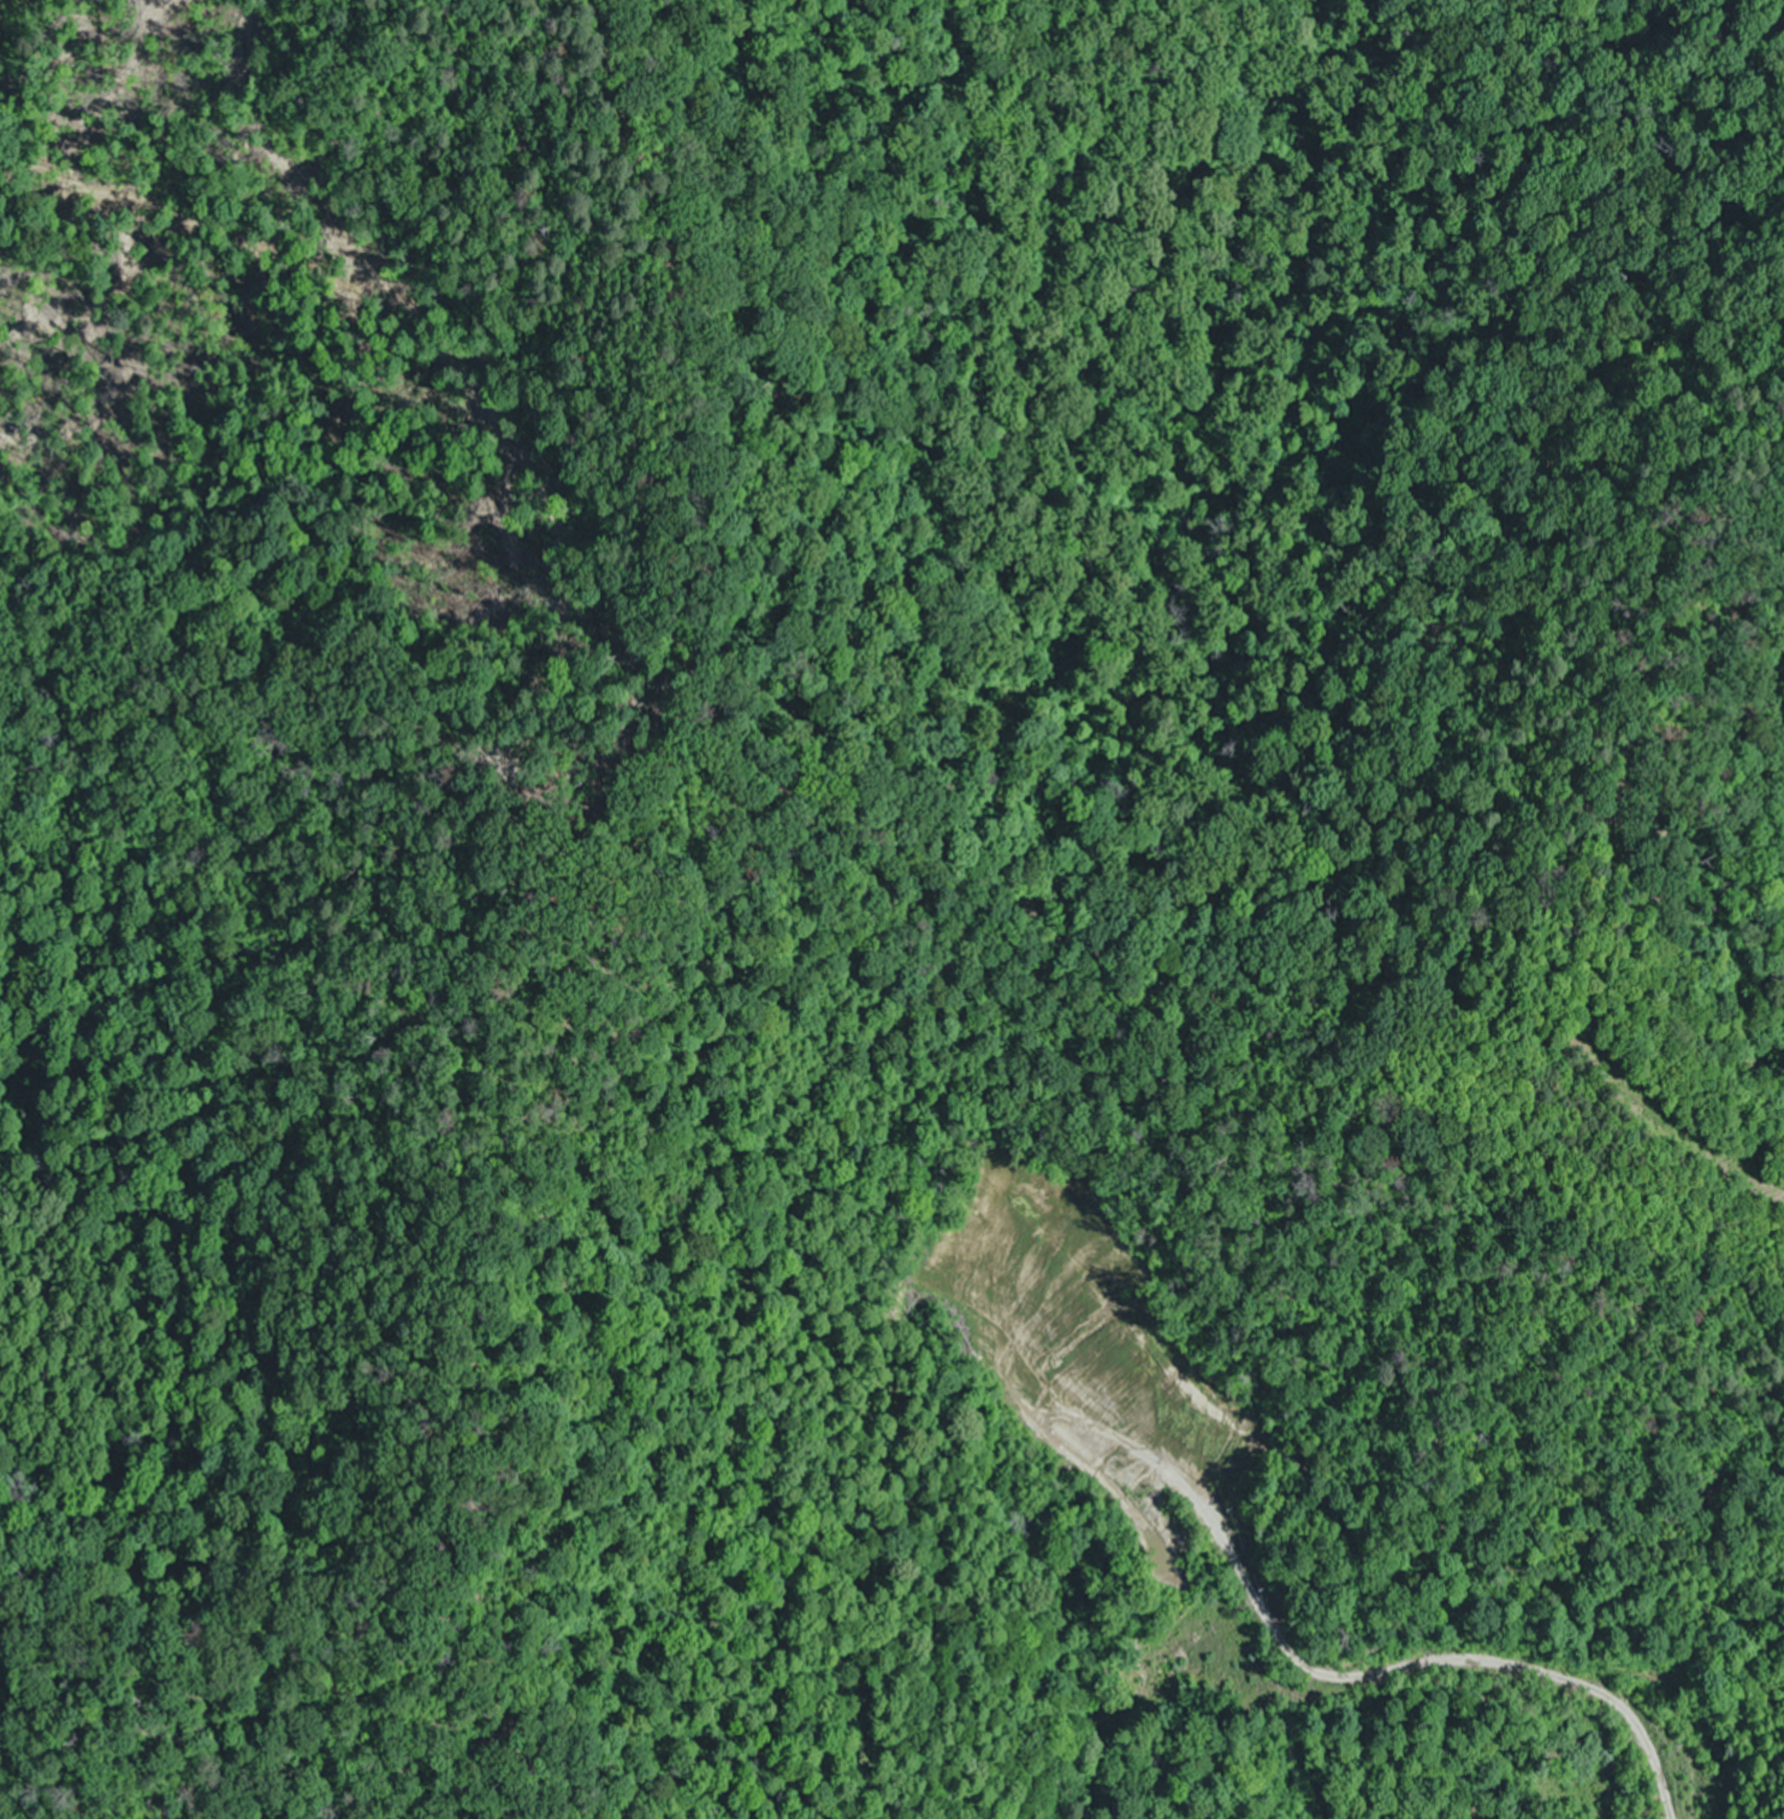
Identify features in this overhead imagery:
building: (1017, 1327)

